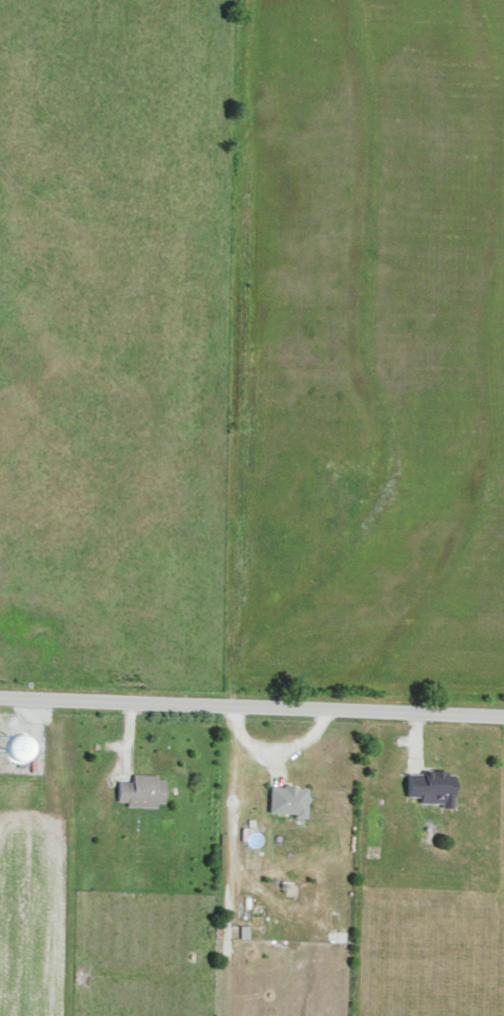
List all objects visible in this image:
road: (252, 703)
building: (431, 786)
building: (141, 789)
building: (287, 798)

